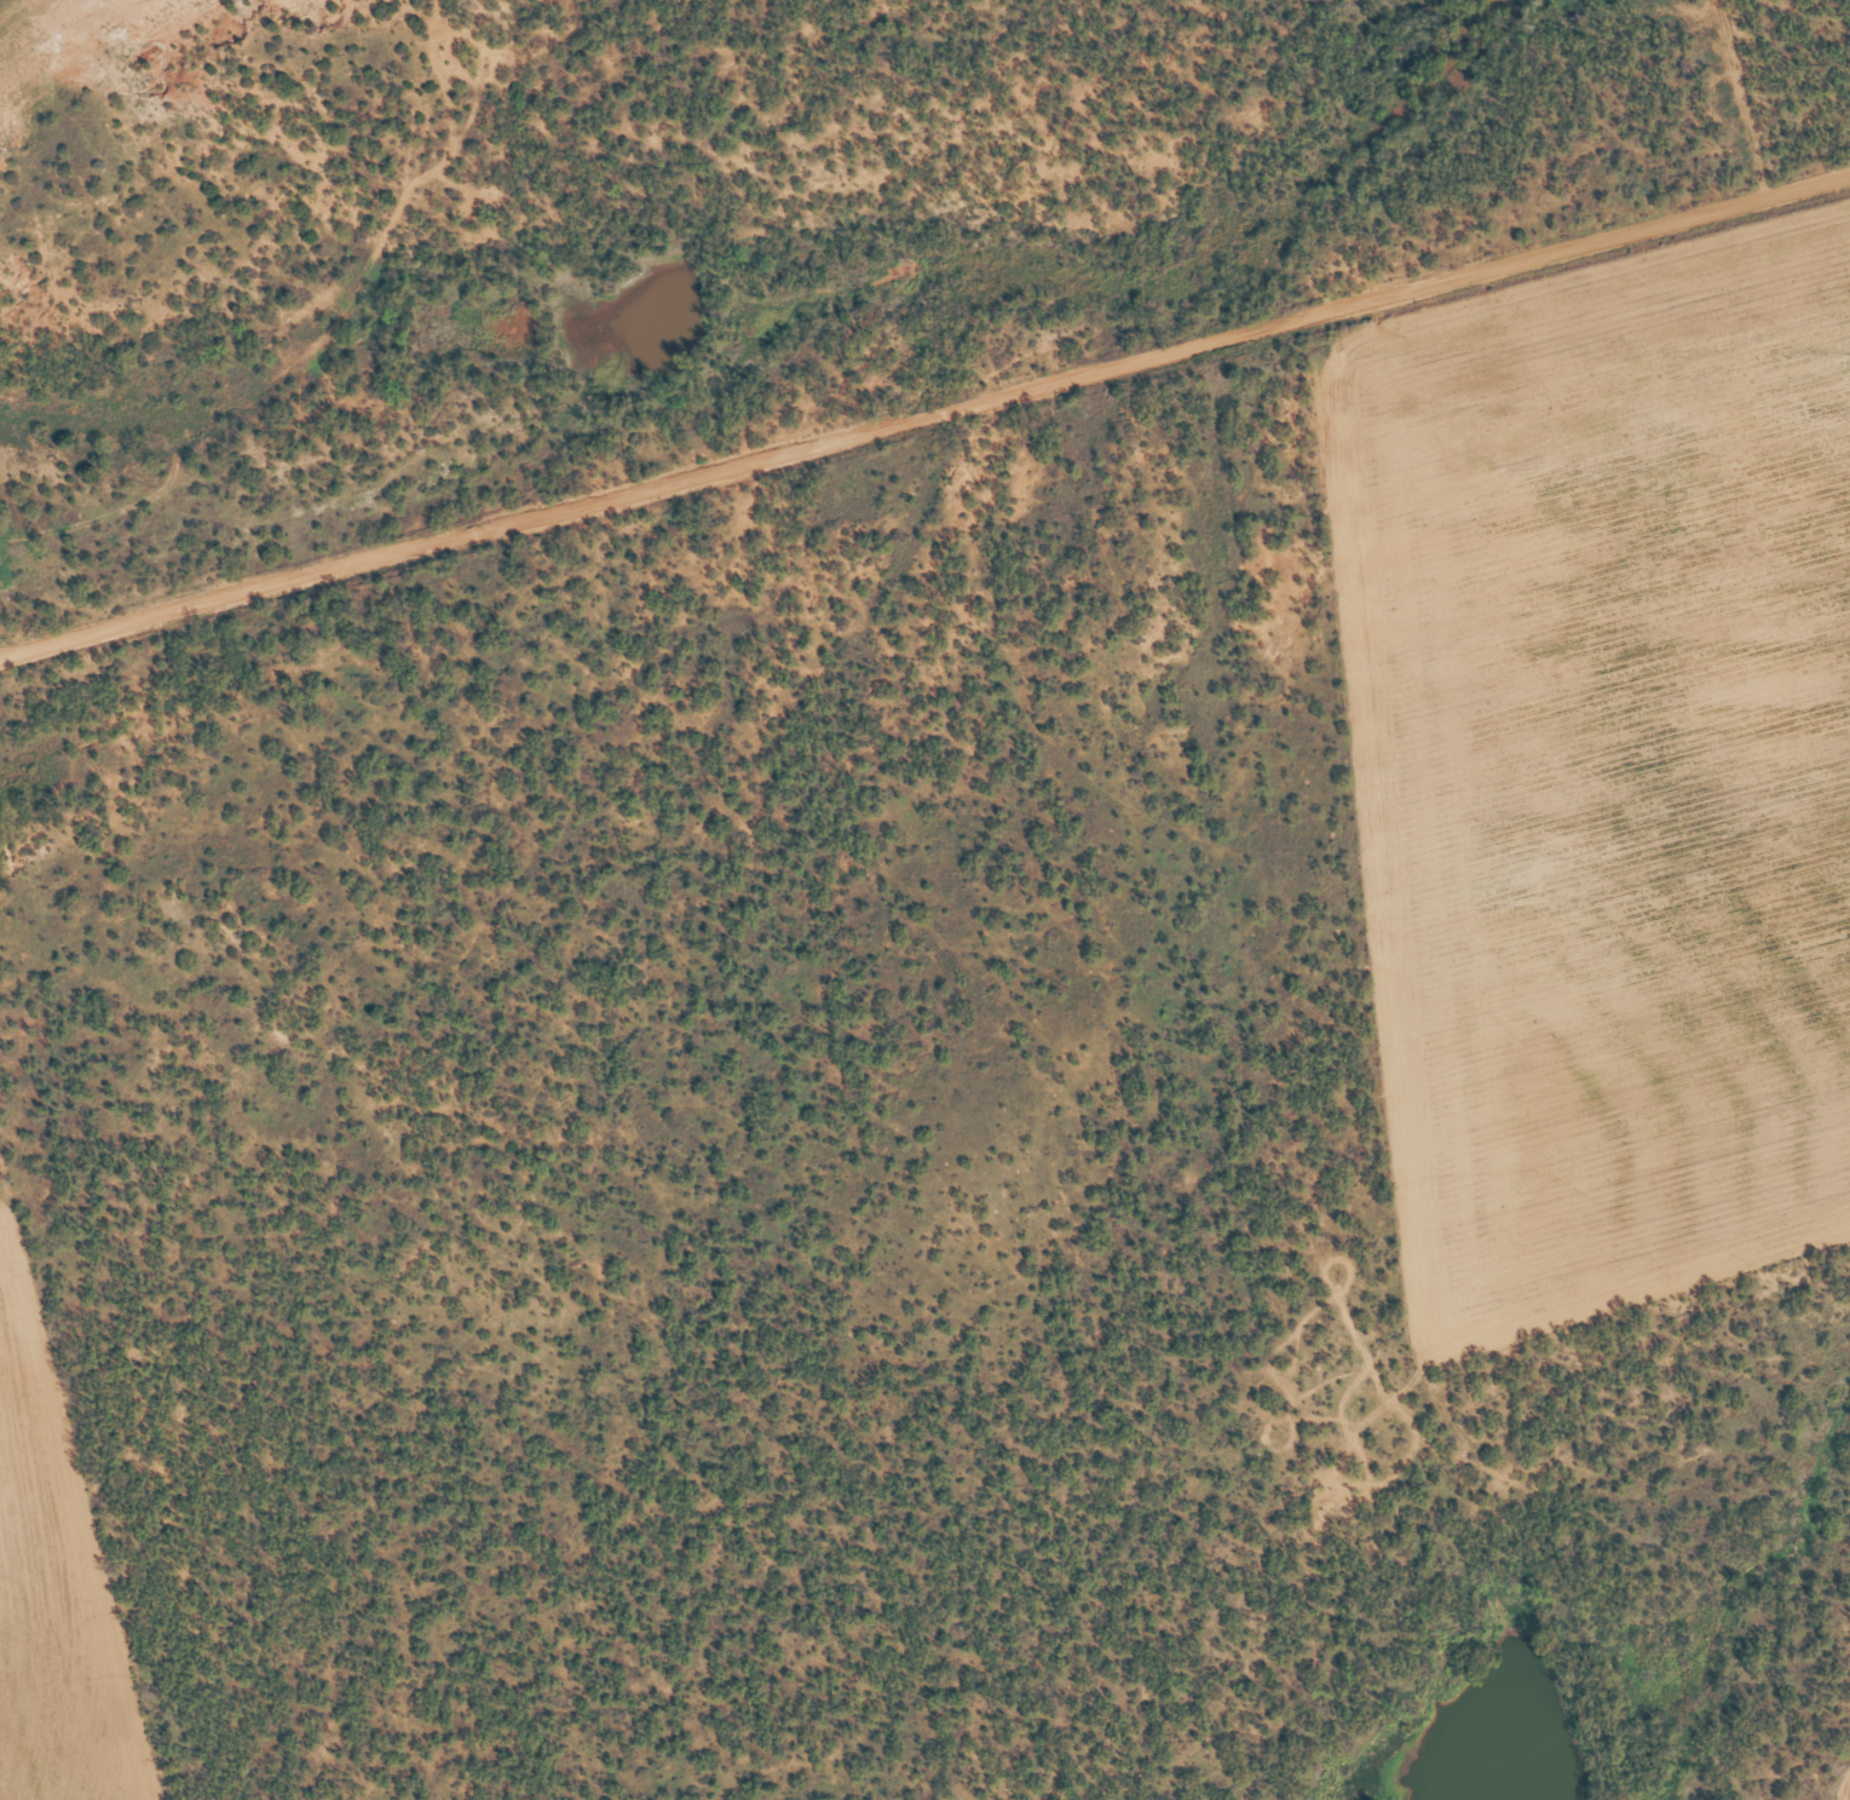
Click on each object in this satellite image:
road: (924, 403)

